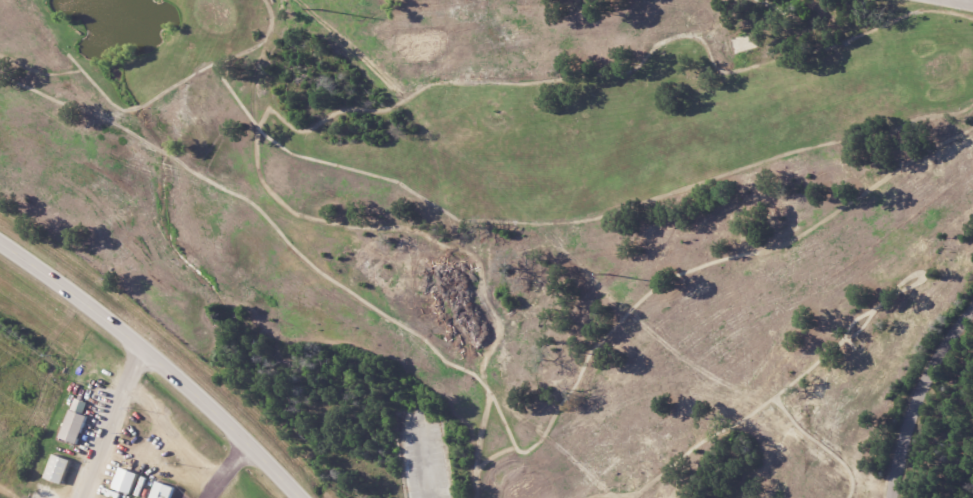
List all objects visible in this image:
road: (959, 2)
power tower: (320, 9)
park: (515, 220)
power tower: (609, 274)
road: (159, 360)
road: (919, 399)
park: (924, 402)
building: (82, 405)
road: (114, 422)
building: (77, 427)
road: (188, 454)
building: (62, 470)
building: (130, 481)
road: (210, 490)
building: (167, 491)

